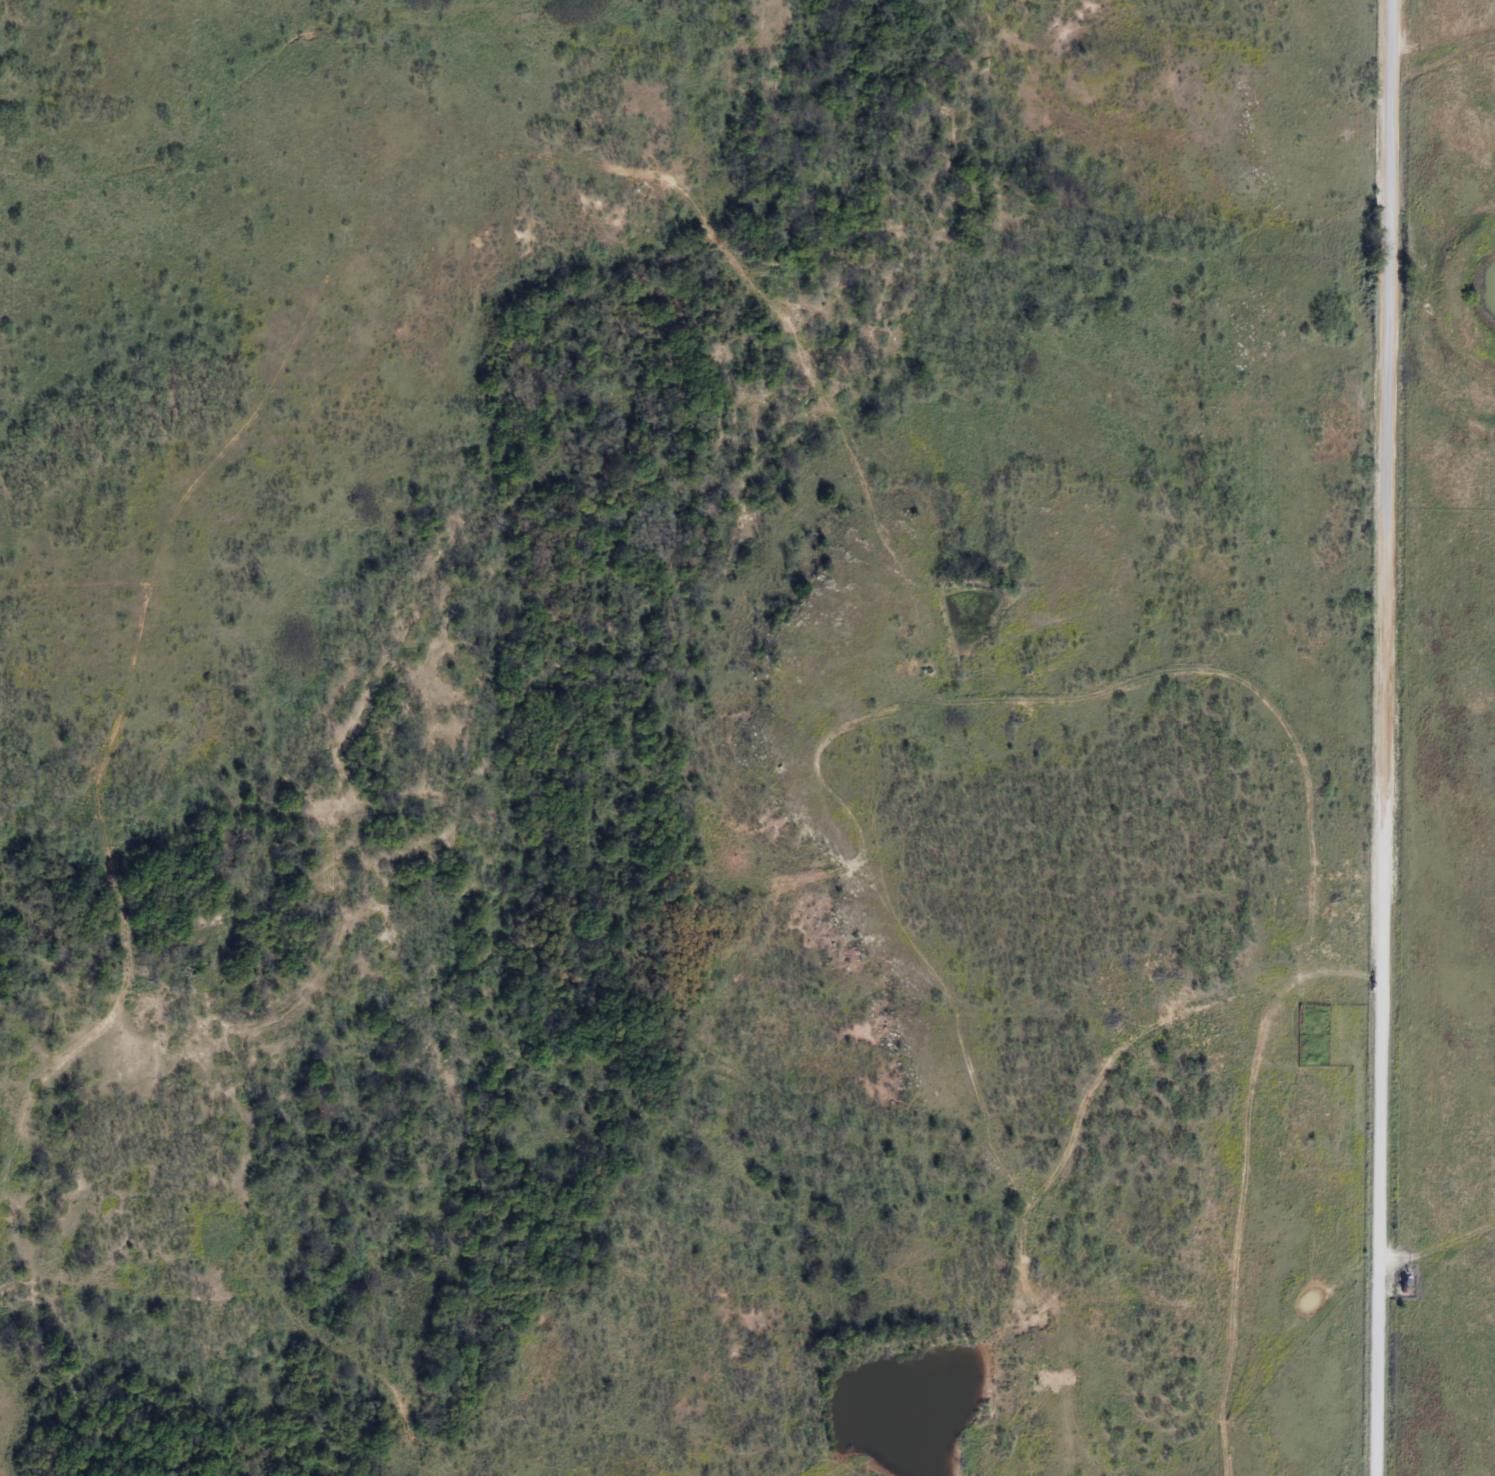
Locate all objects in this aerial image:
road: (1388, 738)

